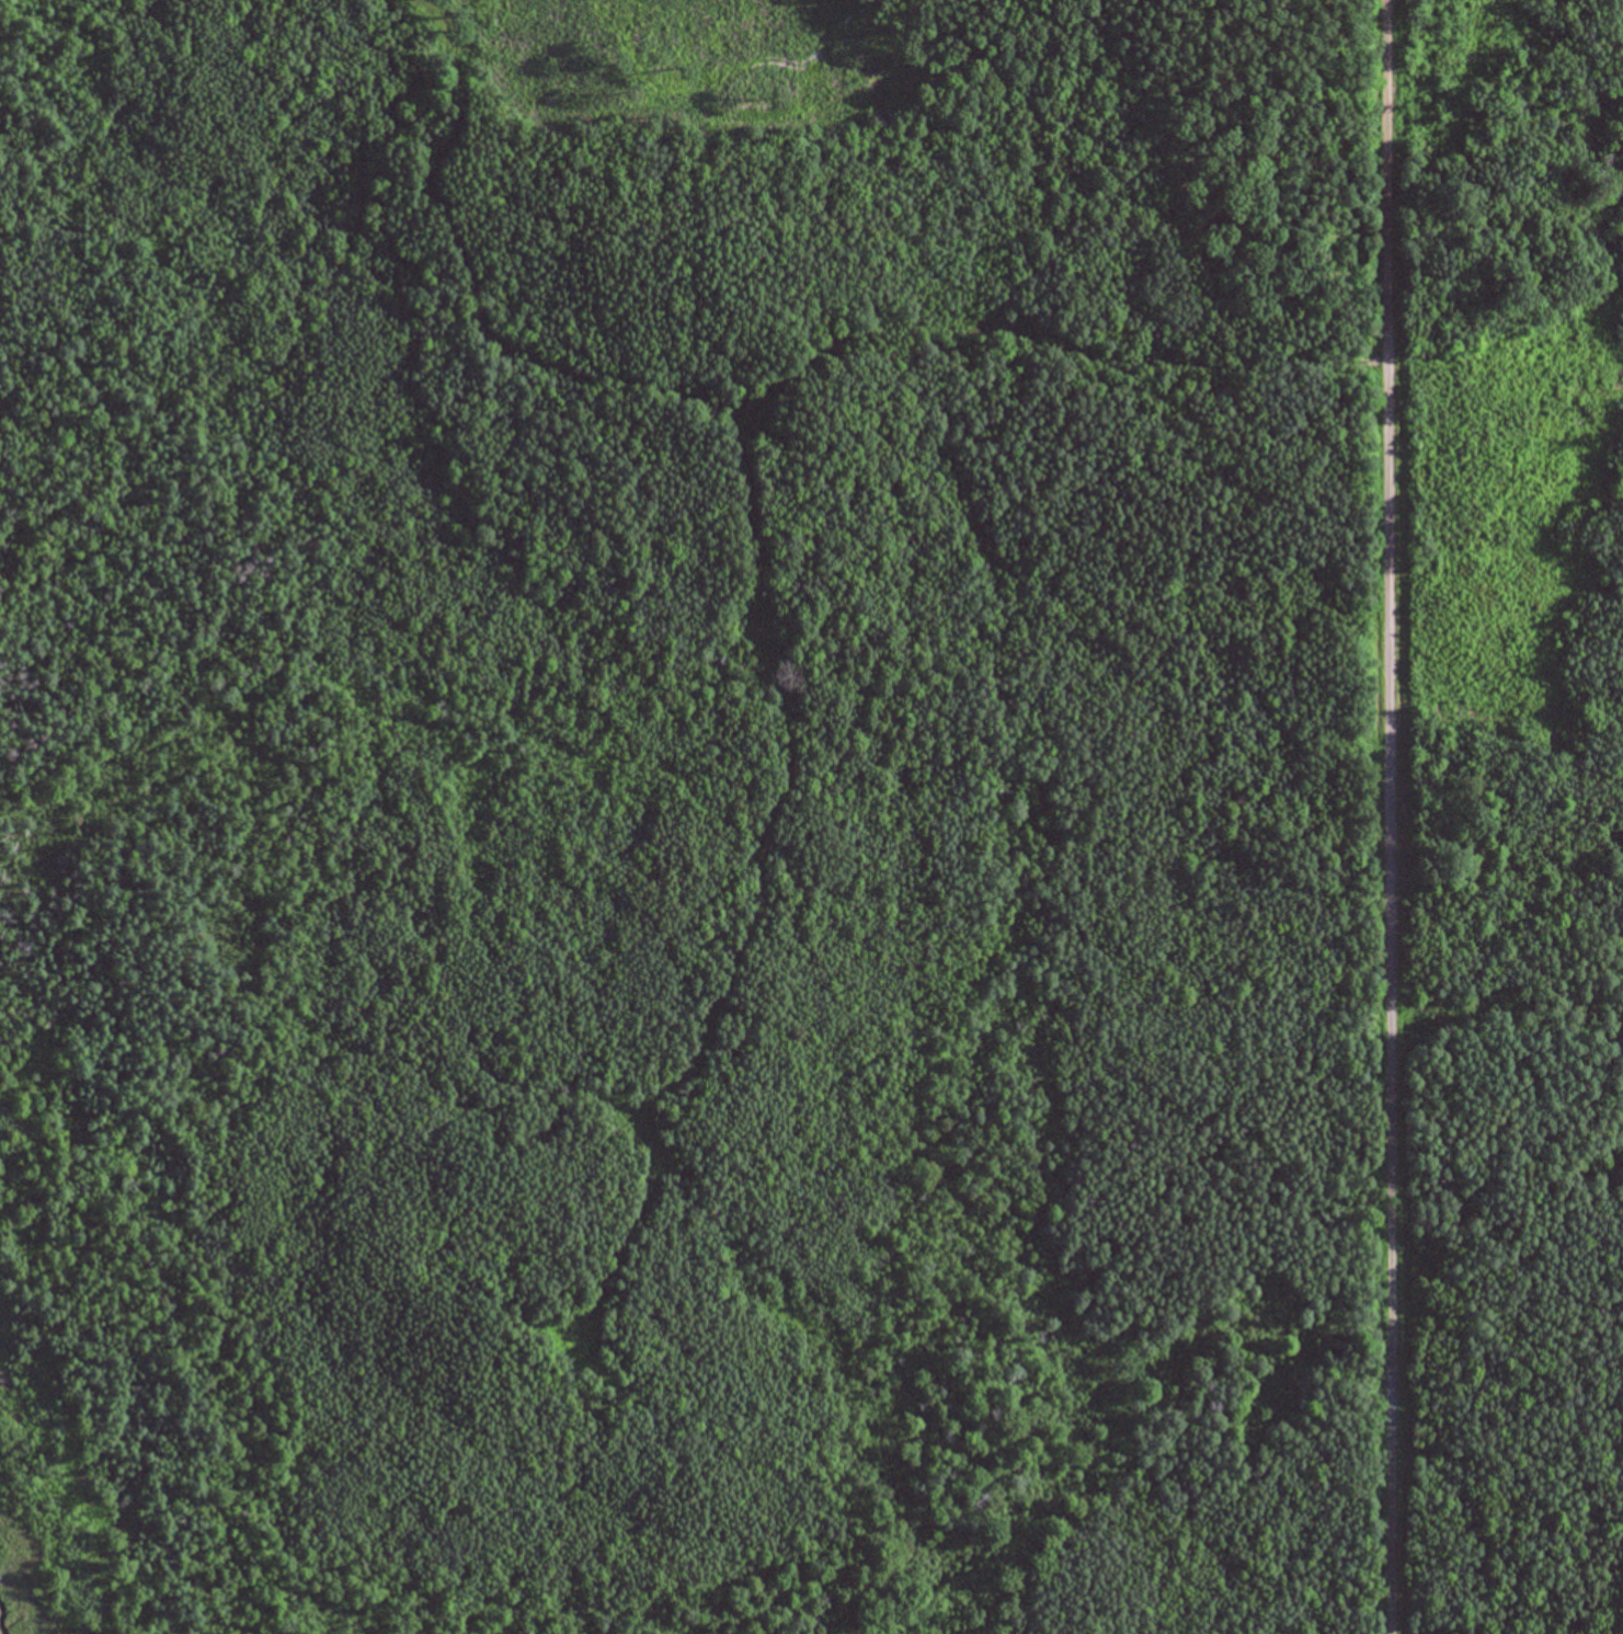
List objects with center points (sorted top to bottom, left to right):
road: (1385, 816)

